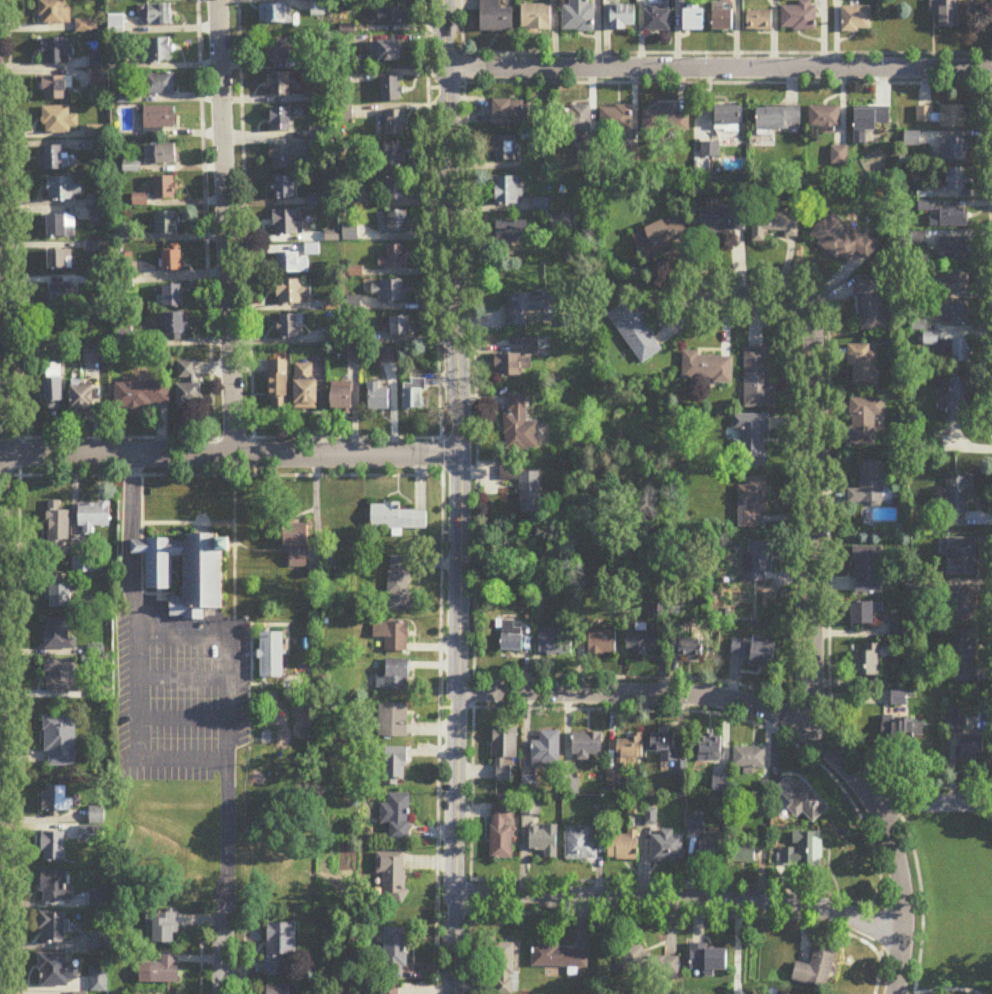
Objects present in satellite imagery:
building: (318, 8)
building: (54, 13)
building: (947, 13)
building: (159, 14)
building: (275, 14)
building: (390, 16)
building: (578, 16)
building: (496, 17)
building: (799, 17)
building: (536, 18)
building: (623, 18)
building: (723, 18)
building: (657, 19)
building: (695, 19)
building: (856, 19)
building: (759, 21)
building: (157, 50)
building: (280, 50)
building: (387, 50)
building: (57, 51)
road: (719, 71)
building: (99, 77)
building: (159, 84)
building: (279, 84)
building: (57, 88)
building: (392, 89)
building: (508, 112)
building: (942, 116)
building: (159, 117)
building: (730, 117)
building: (280, 118)
building: (780, 118)
building: (575, 119)
building: (825, 119)
building: (59, 120)
building: (616, 120)
building: (664, 121)
building: (395, 122)
building: (869, 122)
building: (912, 140)
building: (505, 149)
building: (953, 150)
building: (162, 154)
building: (395, 154)
building: (839, 155)
building: (289, 156)
building: (55, 158)
building: (955, 180)
building: (284, 187)
building: (165, 188)
building: (397, 188)
building: (64, 189)
building: (508, 190)
building: (97, 211)
building: (950, 218)
building: (721, 220)
building: (396, 221)
building: (167, 223)
building: (287, 223)
building: (564, 223)
building: (60, 225)
building: (773, 225)
road: (225, 229)
building: (512, 231)
building: (122, 232)
building: (350, 232)
building: (660, 236)
building: (842, 238)
building: (955, 248)
building: (395, 257)
building: (60, 259)
building: (174, 261)
building: (291, 264)
building: (958, 281)
building: (390, 290)
building: (293, 292)
building: (63, 294)
building: (173, 297)
building: (870, 304)
building: (525, 306)
building: (954, 313)
building: (400, 326)
building: (177, 327)
building: (291, 327)
building: (635, 332)
road: (4, 352)
building: (962, 352)
building: (92, 354)
building: (355, 356)
building: (390, 356)
building: (518, 360)
building: (864, 365)
building: (708, 368)
building: (759, 380)
building: (54, 384)
building: (278, 385)
building: (188, 387)
building: (307, 388)
building: (414, 394)
building: (142, 395)
building: (379, 398)
building: (344, 399)
building: (83, 400)
building: (957, 400)
building: (865, 420)
building: (520, 424)
building: (750, 440)
road: (229, 458)
road: (811, 465)
building: (870, 485)
building: (532, 493)
road: (459, 496)
building: (958, 501)
building: (753, 504)
building: (93, 517)
building: (398, 519)
building: (57, 531)
building: (299, 536)
building: (961, 557)
building: (758, 561)
building: (83, 565)
building: (869, 569)
building: (186, 572)
building: (399, 584)
building: (60, 595)
building: (960, 604)
building: (865, 613)
building: (899, 629)
building: (58, 634)
building: (394, 636)
building: (512, 636)
building: (602, 643)
building: (555, 644)
building: (686, 647)
building: (739, 648)
building: (764, 654)
road: (133, 655)
building: (273, 656)
building: (963, 656)
building: (867, 662)
building: (396, 676)
building: (61, 677)
road: (228, 719)
road: (779, 719)
building: (393, 721)
building: (904, 732)
building: (59, 741)
building: (587, 746)
building: (664, 746)
building: (974, 748)
building: (547, 751)
building: (630, 752)
building: (709, 753)
building: (504, 754)
building: (749, 759)
building: (396, 767)
building: (55, 800)
building: (803, 801)
road: (932, 805)
building: (96, 816)
building: (397, 817)
building: (502, 835)
building: (543, 842)
building: (580, 844)
building: (54, 847)
building: (623, 848)
building: (667, 848)
building: (804, 851)
building: (712, 852)
building: (746, 854)
building: (392, 876)
building: (56, 887)
road: (680, 902)
building: (53, 928)
building: (166, 929)
road: (225, 946)
building: (279, 947)
building: (395, 955)
building: (559, 957)
building: (709, 960)
building: (646, 964)
building: (503, 969)
building: (817, 970)
building: (56, 971)
building: (161, 971)
building: (98, 979)
building: (388, 989)
building: (280, 990)
building: (79, 993)

